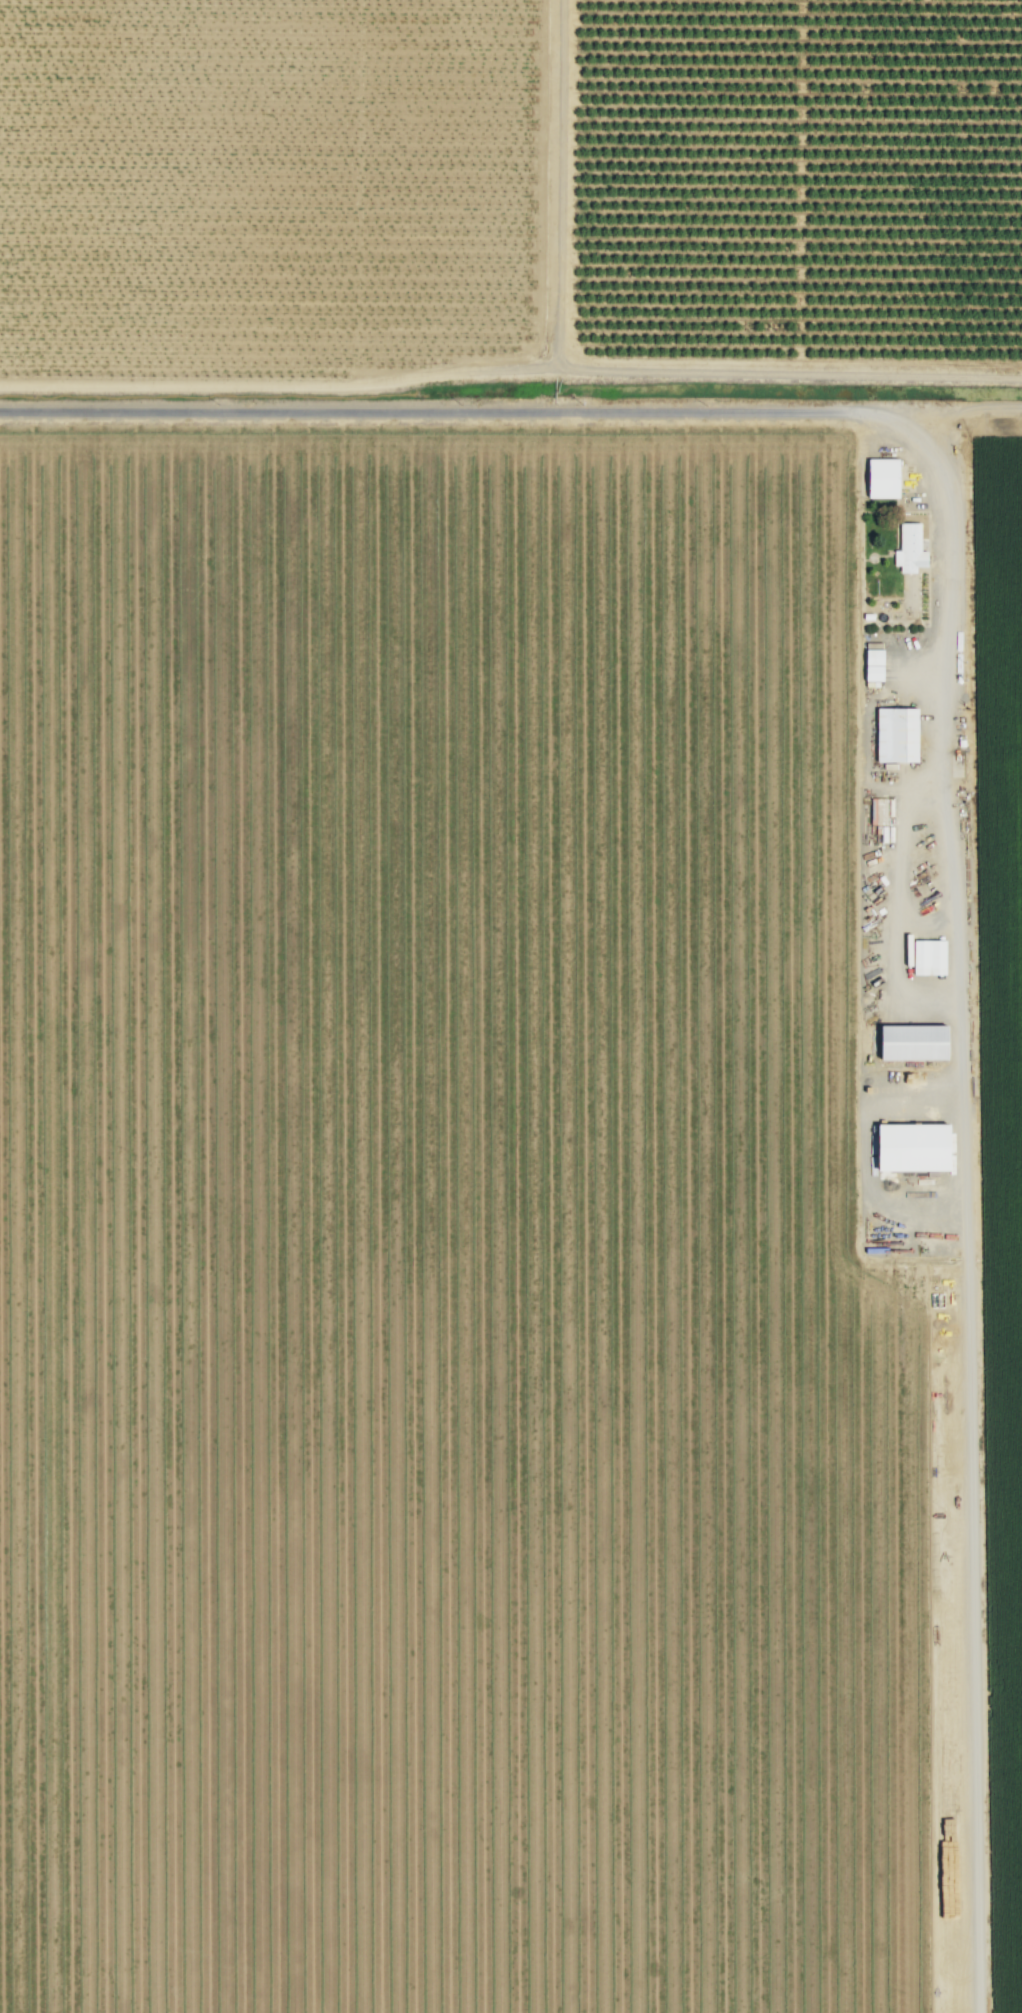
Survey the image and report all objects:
road: (510, 370)
building: (880, 479)
building: (908, 550)
building: (894, 736)
road: (937, 759)
building: (926, 958)
building: (909, 1043)
building: (907, 1149)

